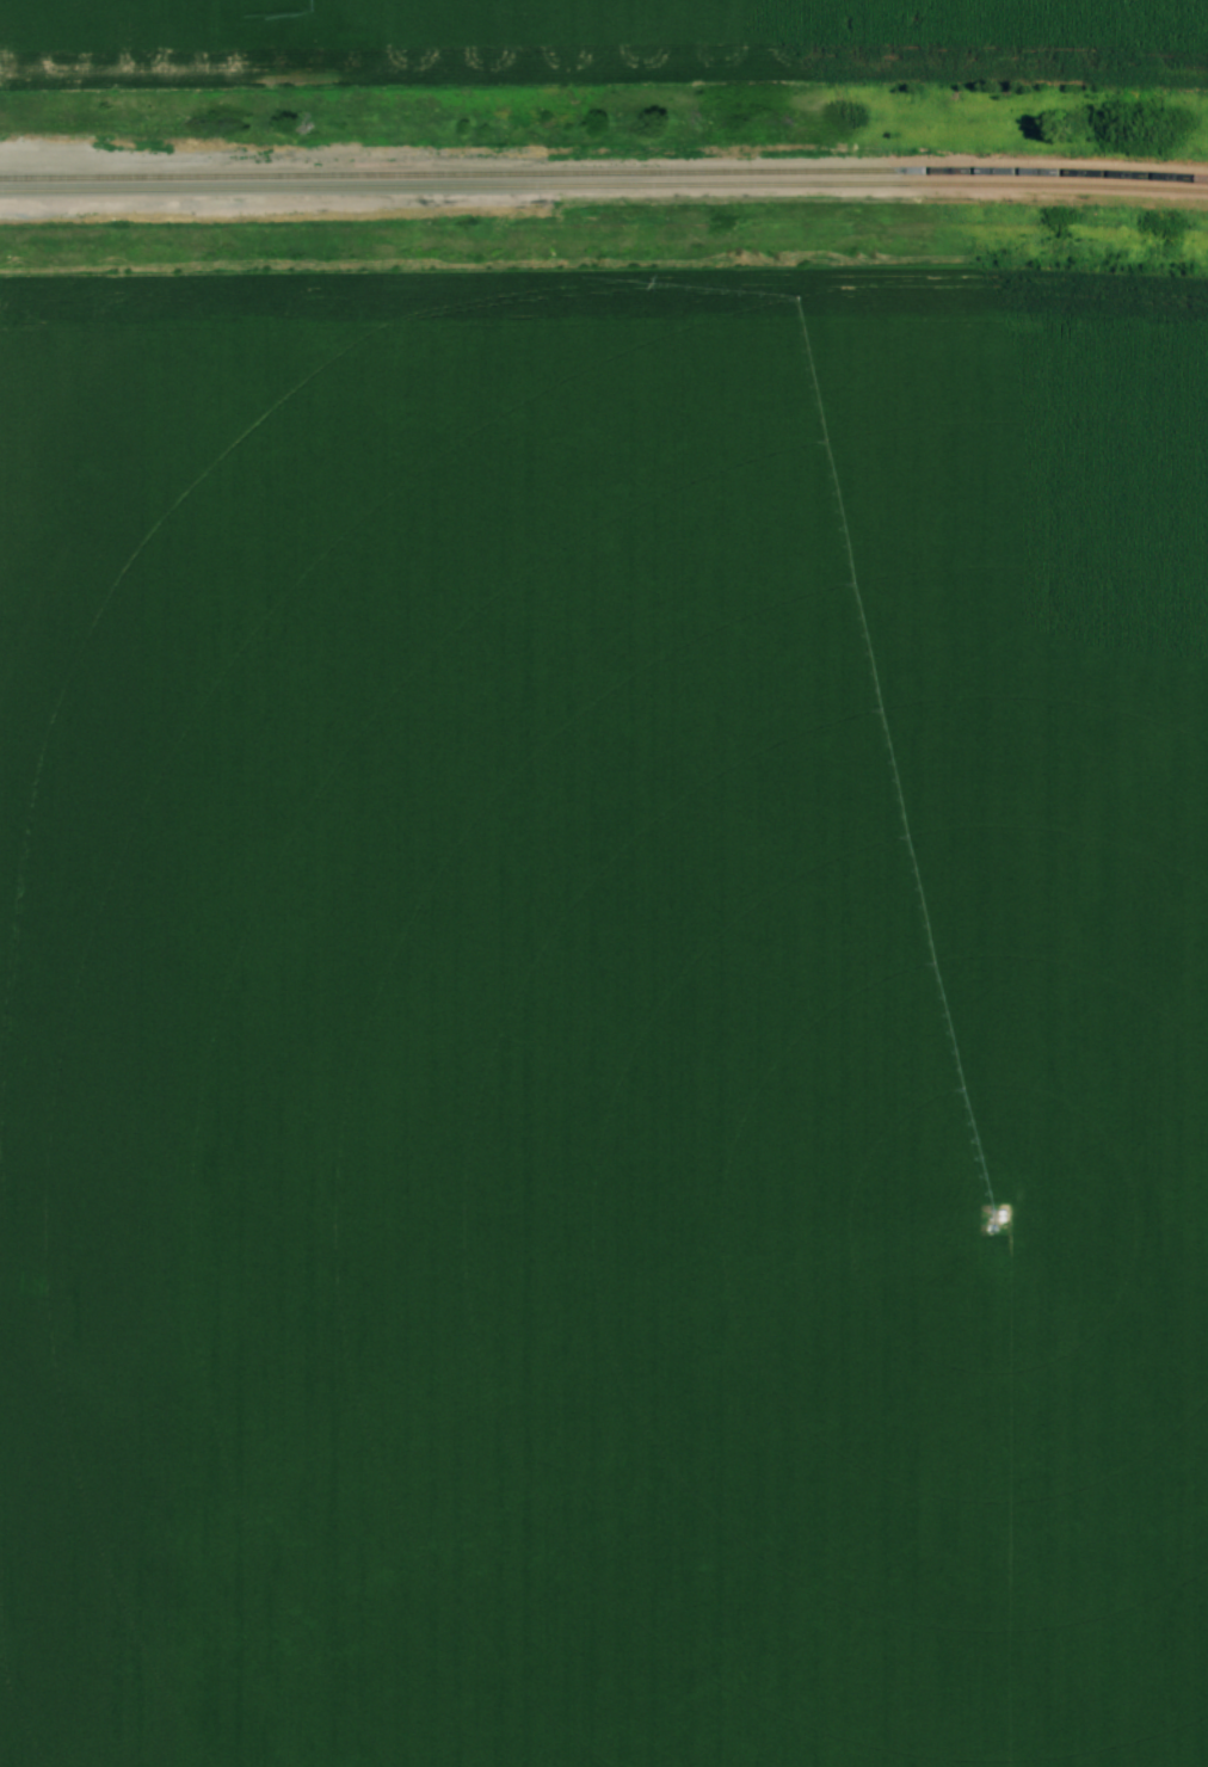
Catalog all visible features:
railway: (604, 173)
railway: (604, 186)

